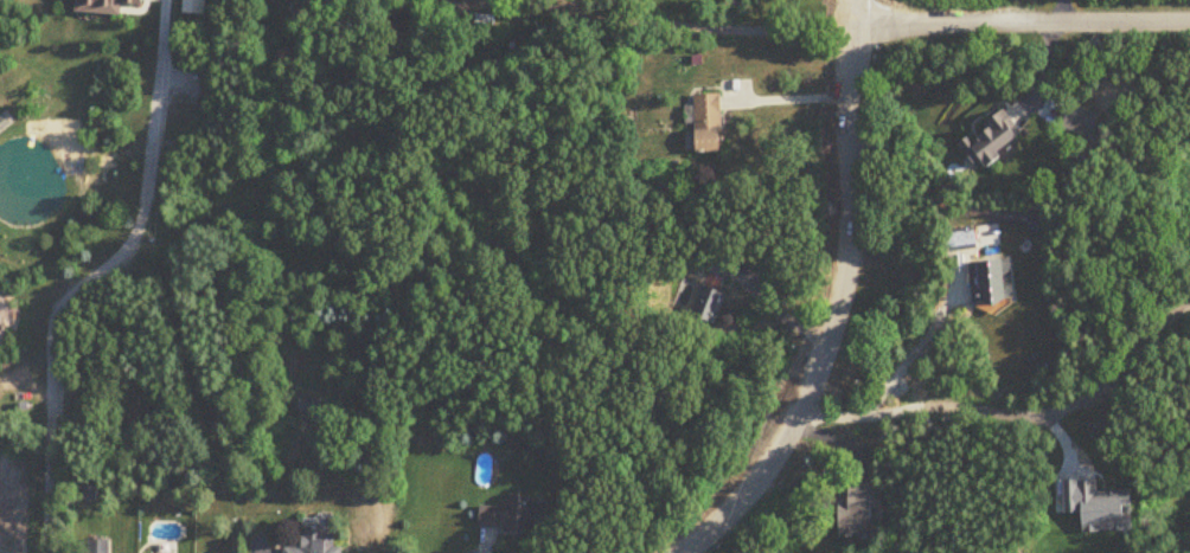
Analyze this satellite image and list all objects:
road: (1058, 9)
road: (1022, 20)
road: (706, 26)
road: (791, 98)
building: (709, 123)
building: (993, 140)
building: (961, 239)
building: (723, 265)
road: (96, 275)
building: (993, 283)
road: (842, 301)
building: (709, 304)
road: (906, 360)
road: (1017, 416)
building: (859, 509)
building: (516, 516)
building: (318, 542)
building: (98, 546)

